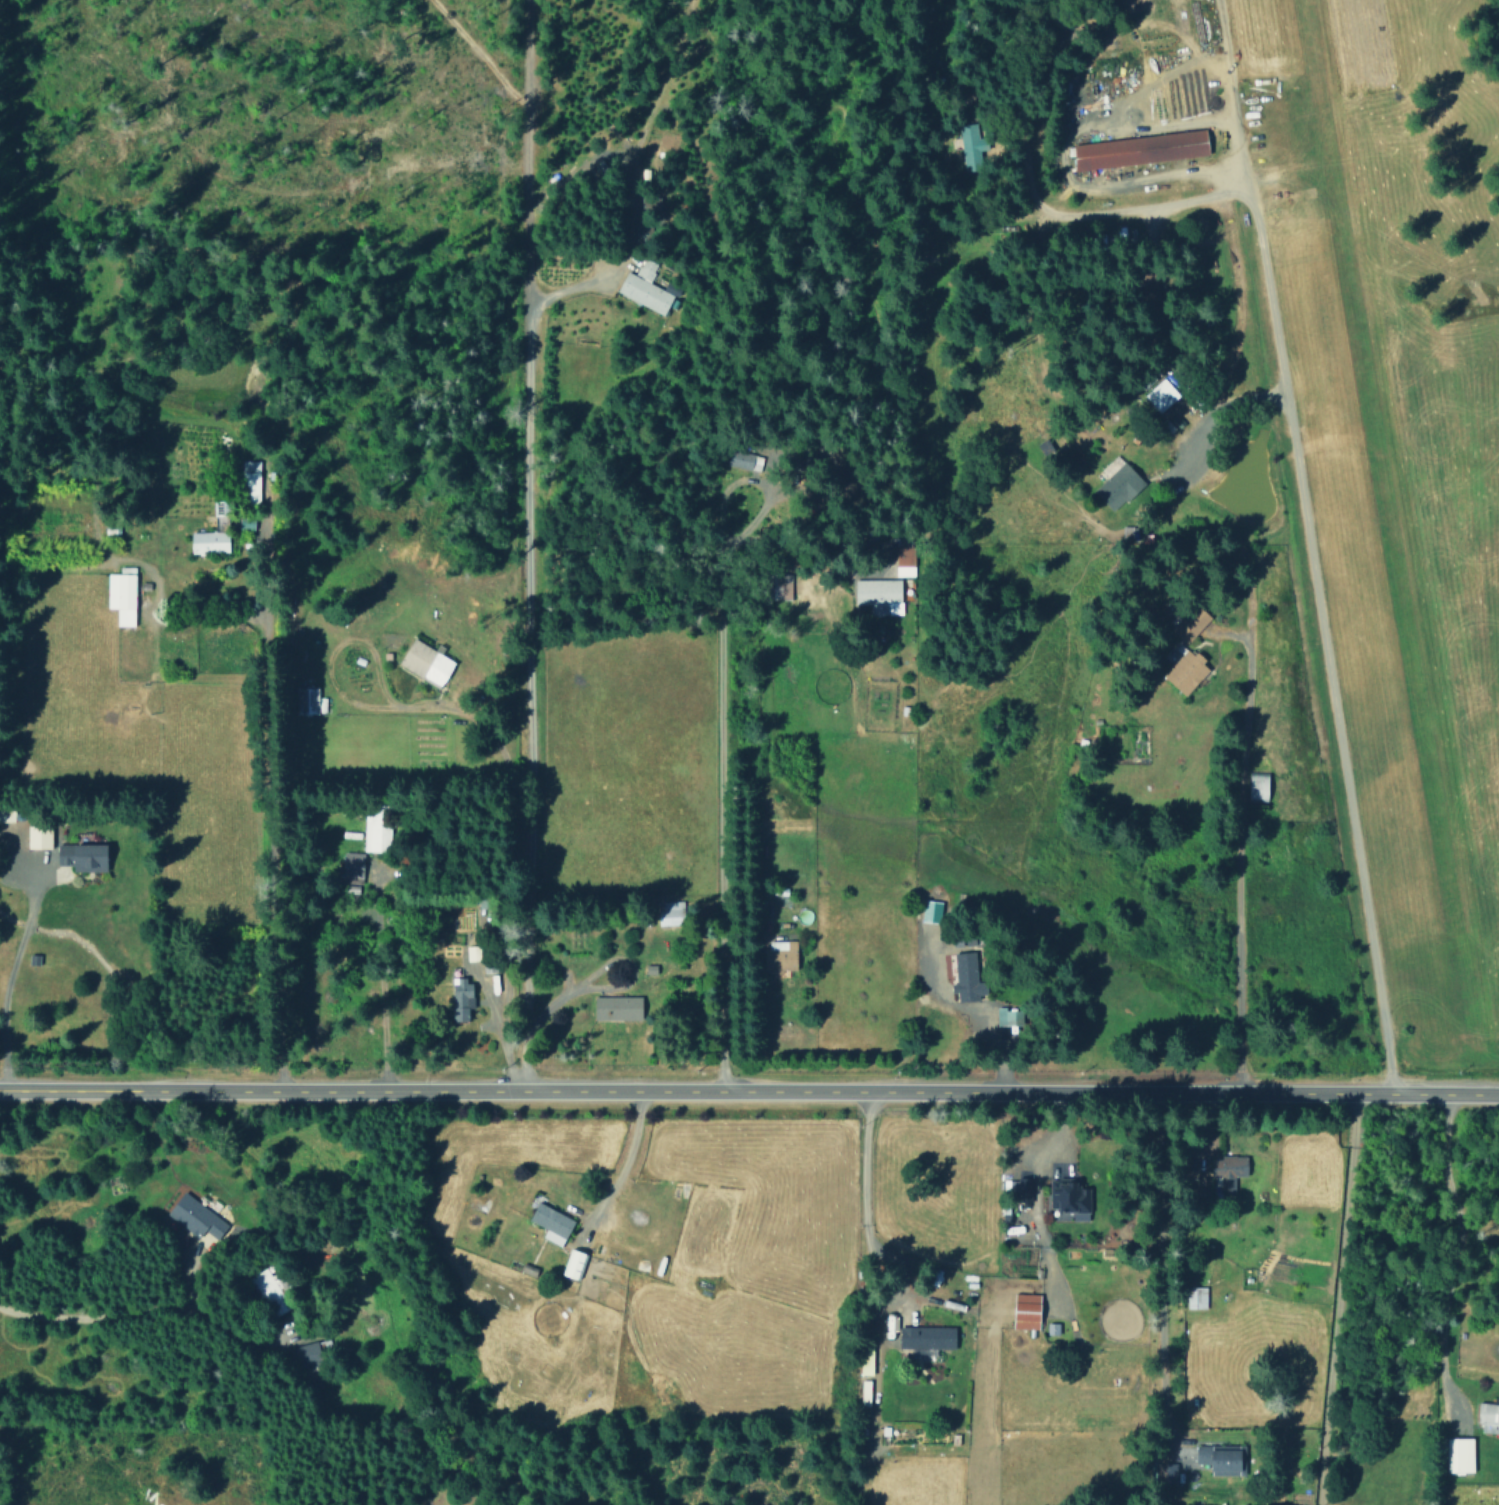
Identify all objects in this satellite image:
building: (970, 146)
airport terminal: (1135, 151)
building: (1135, 151)
building: (644, 288)
building: (1161, 396)
building: (744, 460)
building: (249, 482)
building: (1117, 487)
road: (1215, 501)
airport runway: (1415, 501)
airport runway: (1383, 516)
building: (246, 523)
building: (213, 532)
building: (903, 561)
airport runway: (1321, 577)
building: (782, 586)
building: (878, 595)
building: (121, 598)
building: (1191, 626)
building: (426, 662)
building: (1187, 673)
building: (306, 701)
road: (716, 758)
building: (1257, 785)
road: (274, 802)
building: (376, 829)
building: (38, 835)
building: (83, 857)
building: (352, 867)
building: (931, 910)
building: (669, 912)
building: (780, 956)
building: (966, 977)
building: (462, 998)
building: (617, 1007)
building: (1008, 1016)
road: (749, 1095)
building: (1228, 1170)
building: (1069, 1197)
road: (863, 1200)
building: (195, 1216)
building: (551, 1222)
building: (573, 1262)
road: (1172, 1275)
building: (271, 1291)
building: (1194, 1297)
road: (1335, 1300)
road: (1444, 1301)
building: (1026, 1311)
road: (136, 1317)
building: (926, 1338)
building: (305, 1353)
building: (865, 1360)
building: (1487, 1417)
building: (1459, 1454)
building: (1220, 1458)
building: (1166, 1471)

